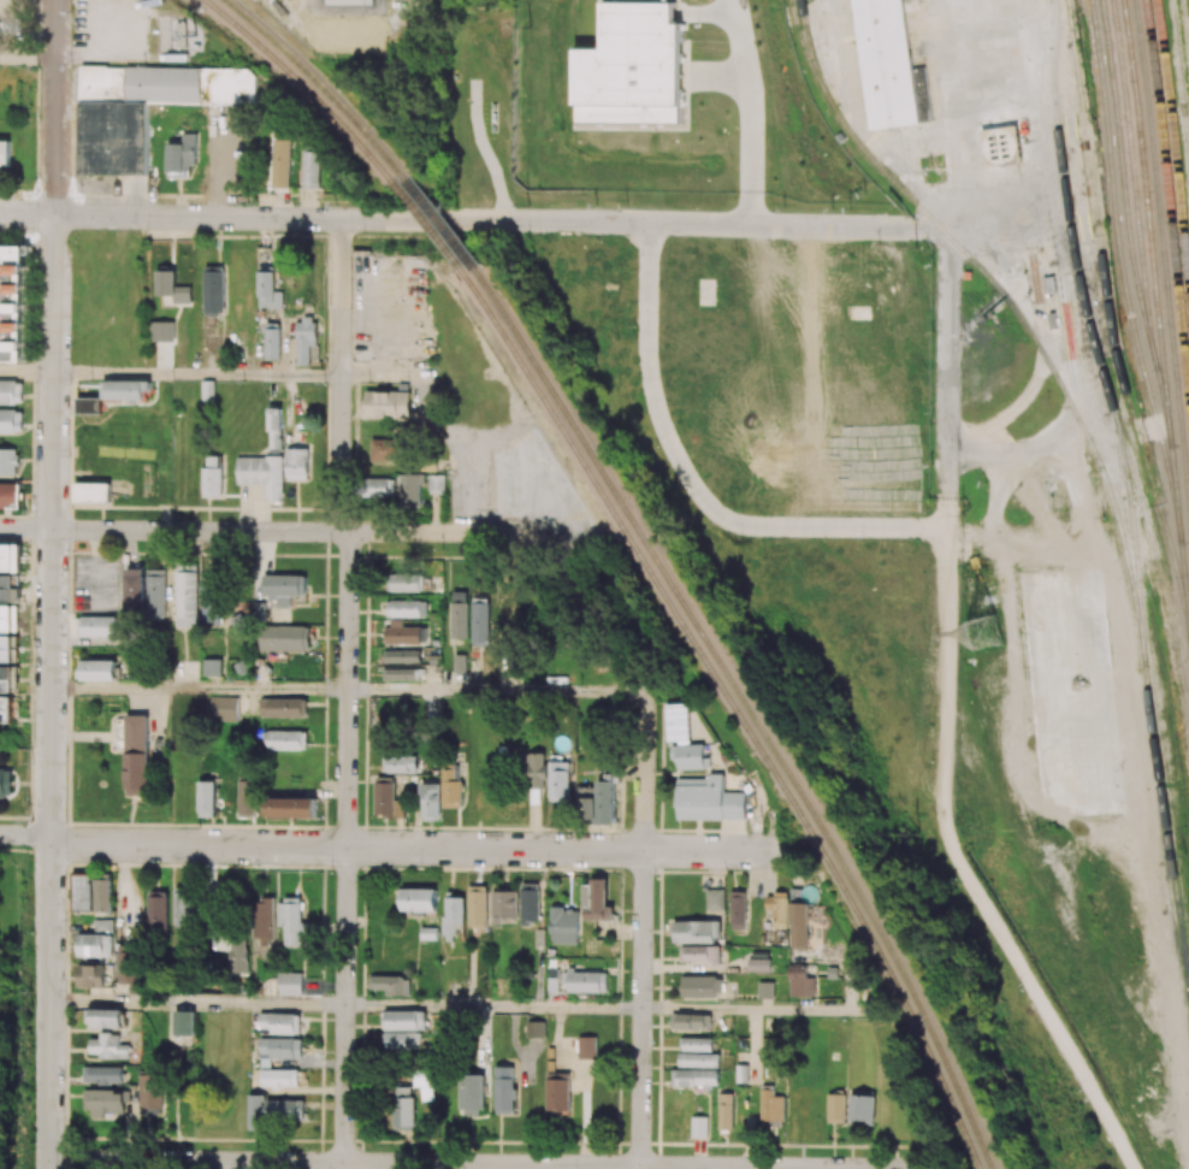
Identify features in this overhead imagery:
building: (350, 2)
street lamp: (71, 12)
railway: (1185, 22)
street lamp: (152, 31)
road: (112, 51)
railway: (812, 55)
road: (28, 57)
building: (887, 63)
building: (632, 69)
railway: (304, 85)
railway: (320, 85)
railway: (1179, 88)
road: (55, 107)
building: (144, 108)
road: (746, 108)
street lamp: (37, 120)
railway: (1185, 126)
railway: (1175, 131)
building: (1000, 146)
building: (4, 153)
building: (182, 158)
building: (283, 163)
building: (312, 167)
railway: (1170, 185)
railway: (1135, 189)
road: (28, 214)
road: (404, 219)
railway: (440, 223)
railway: (428, 226)
road: (848, 226)
railway: (1130, 226)
street lamp: (146, 230)
railway: (1164, 246)
railway: (1124, 268)
building: (172, 288)
building: (271, 288)
building: (213, 290)
building: (12, 302)
railway: (1159, 312)
railway: (1113, 323)
building: (162, 331)
building: (306, 340)
building: (273, 341)
road: (392, 356)
railway: (1100, 358)
road: (649, 362)
road: (26, 372)
road: (950, 372)
road: (197, 374)
building: (128, 390)
building: (11, 392)
building: (389, 403)
building: (89, 406)
building: (11, 421)
building: (276, 429)
railway: (1090, 447)
building: (8, 461)
building: (298, 464)
building: (262, 474)
building: (212, 477)
building: (437, 484)
building: (379, 488)
building: (412, 491)
building: (93, 492)
building: (10, 495)
road: (948, 515)
road: (817, 526)
road: (274, 531)
railway: (1132, 535)
building: (10, 557)
building: (407, 583)
building: (7, 588)
building: (135, 590)
building: (278, 591)
building: (155, 592)
building: (187, 597)
building: (213, 598)
building: (406, 609)
building: (460, 615)
building: (6, 618)
building: (480, 621)
building: (99, 626)
power tower: (988, 632)
building: (403, 633)
building: (284, 638)
building: (6, 649)
building: (403, 656)
building: (460, 663)
building: (212, 667)
building: (99, 671)
road: (947, 671)
building: (401, 674)
building: (6, 679)
road: (200, 689)
road: (493, 691)
road: (51, 692)
road: (348, 693)
building: (284, 707)
building: (224, 708)
railway: (750, 708)
building: (6, 709)
railway: (738, 710)
building: (684, 739)
building: (286, 740)
building: (136, 755)
building: (400, 764)
building: (558, 781)
building: (6, 783)
building: (451, 786)
building: (247, 797)
building: (206, 799)
building: (709, 799)
building: (388, 801)
building: (607, 801)
building: (431, 802)
building: (587, 804)
building: (291, 808)
road: (25, 836)
road: (1004, 839)
road: (644, 842)
road: (418, 848)
building: (82, 891)
building: (103, 895)
building: (419, 899)
building: (715, 899)
building: (596, 901)
building: (505, 905)
building: (776, 905)
building: (183, 907)
building: (478, 907)
building: (530, 907)
building: (738, 910)
building: (156, 913)
building: (452, 916)
building: (264, 922)
building: (292, 923)
building: (799, 925)
building: (105, 926)
building: (564, 926)
building: (697, 931)
road: (10, 941)
building: (95, 945)
building: (700, 953)
building: (238, 957)
building: (129, 966)
building: (758, 966)
building: (91, 976)
building: (587, 981)
building: (801, 982)
building: (290, 984)
building: (392, 985)
building: (700, 987)
building: (765, 990)
road: (197, 1003)
park: (11, 1005)
road: (495, 1006)
road: (761, 1009)
building: (108, 1019)
building: (404, 1021)
building: (691, 1021)
building: (184, 1023)
building: (279, 1023)
road: (1083, 1028)
building: (536, 1029)
building: (402, 1041)
building: (698, 1044)
building: (111, 1046)
building: (587, 1047)
building: (279, 1050)
building: (699, 1059)
building: (741, 1074)
building: (105, 1075)
building: (279, 1078)
building: (698, 1078)
building: (425, 1081)
building: (504, 1090)
building: (557, 1092)
building: (152, 1094)
building: (471, 1094)
building: (108, 1103)
building: (404, 1108)
building: (771, 1108)
building: (836, 1109)
building: (862, 1109)
building: (285, 1111)
building: (726, 1111)
building: (255, 1114)
building: (699, 1127)
road: (473, 1164)

